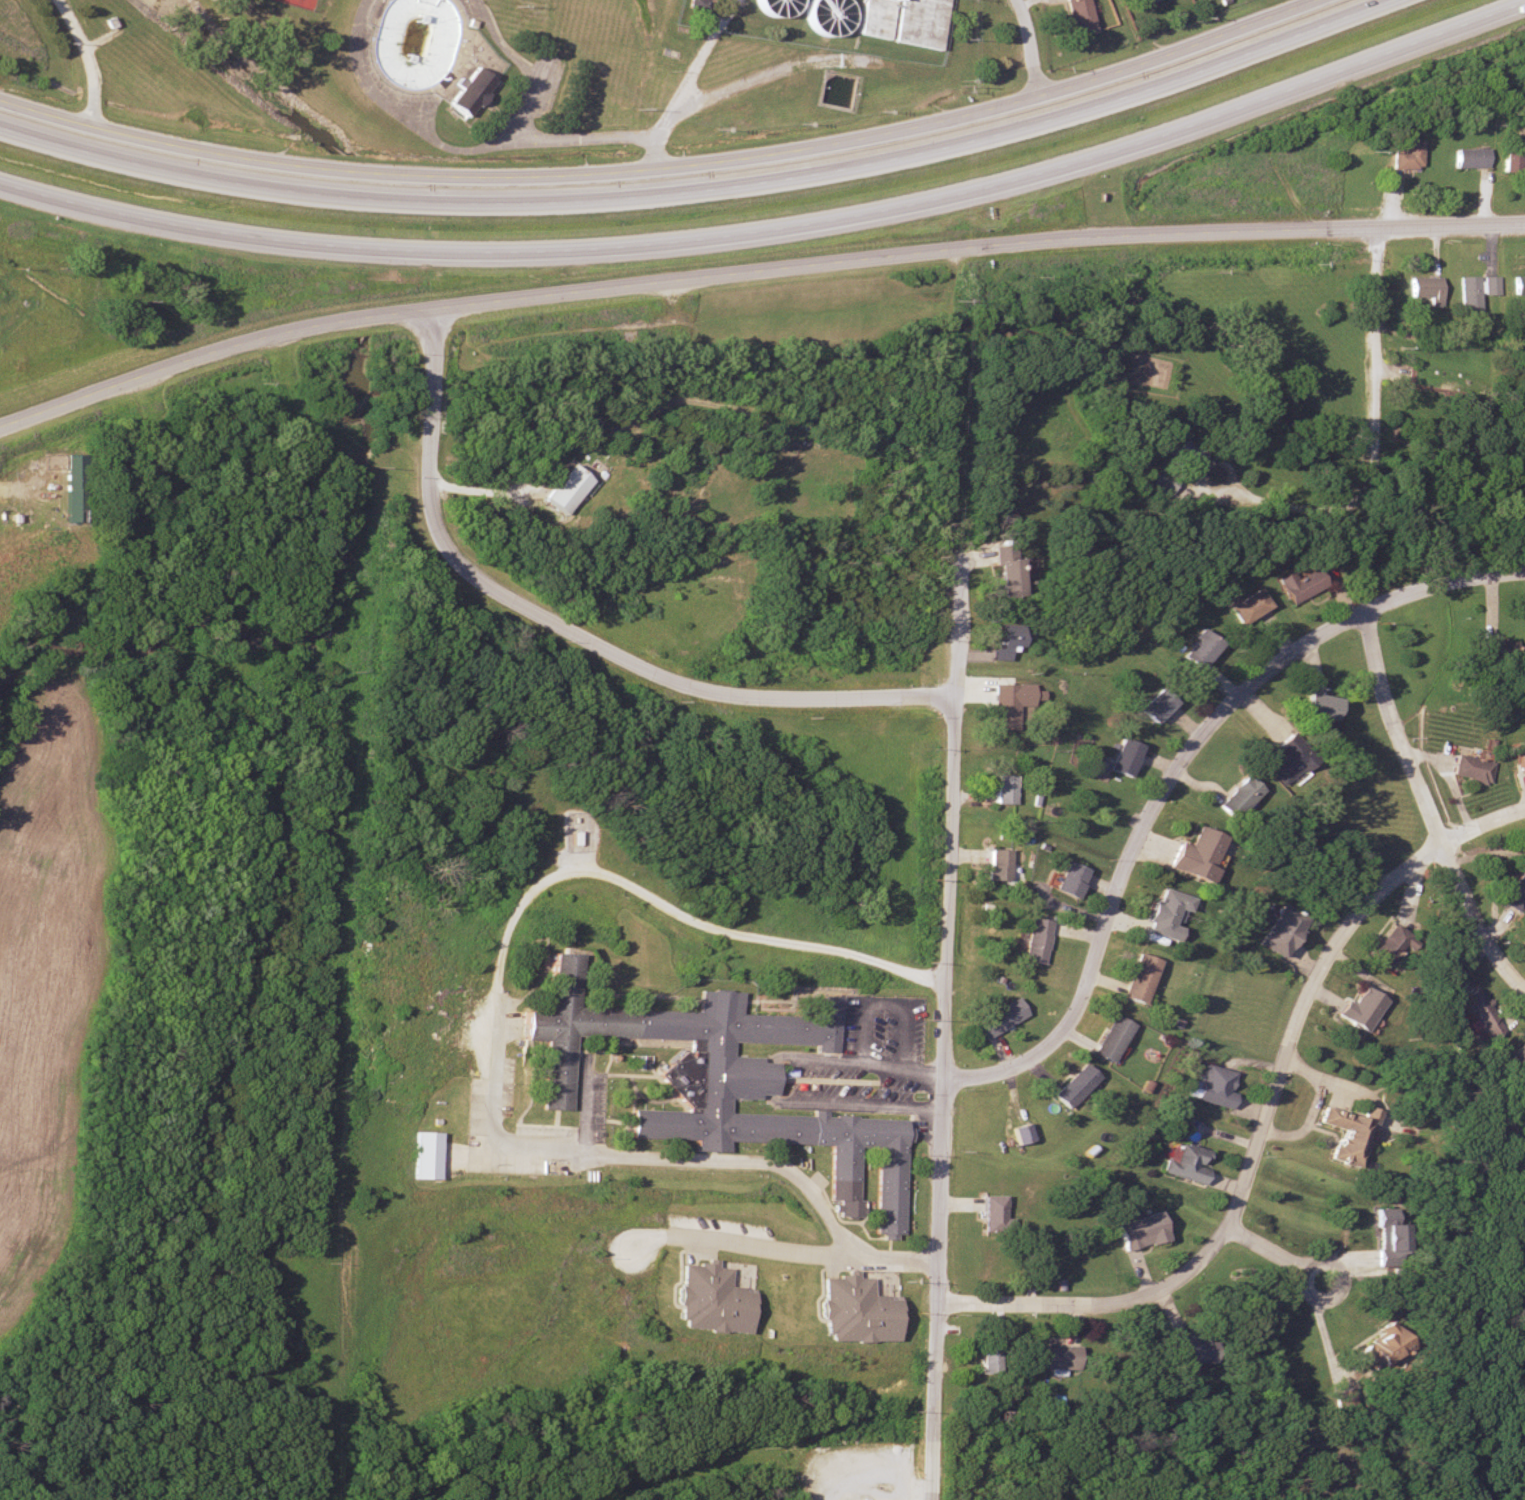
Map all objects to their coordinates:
building: (1145, 0)
park: (301, 4)
building: (698, 6)
building: (780, 6)
silo: (780, 6)
building: (834, 14)
silo: (834, 14)
building: (1078, 16)
building: (877, 18)
building: (919, 24)
park: (550, 28)
building: (415, 42)
road: (1029, 44)
road: (89, 61)
building: (469, 93)
building: (1396, 154)
building: (1467, 157)
building: (1510, 161)
road: (666, 175)
road: (705, 194)
road: (776, 229)
road: (753, 271)
building: (1518, 284)
building: (1489, 285)
building: (1422, 288)
building: (1467, 292)
road: (1375, 420)
building: (1179, 446)
road: (1230, 470)
building: (565, 489)
building: (1002, 570)
building: (1297, 584)
building: (1245, 606)
road: (569, 634)
building: (1001, 641)
river: (300, 645)
building: (1197, 647)
building: (1496, 651)
building: (1155, 706)
building: (1318, 706)
building: (999, 707)
building: (1125, 758)
building: (1286, 759)
building: (1519, 762)
road: (953, 769)
building: (1470, 769)
building: (1003, 789)
building: (1236, 797)
road: (1426, 812)
road: (1150, 813)
building: (1193, 855)
building: (997, 864)
building: (1069, 880)
building: (1516, 892)
building: (1164, 911)
building: (1276, 932)
building: (1035, 940)
building: (1389, 946)
building: (1138, 978)
building: (1359, 1008)
road: (499, 1011)
building: (1478, 1013)
building: (998, 1018)
building: (584, 1027)
building: (1111, 1038)
building: (705, 1054)
building: (1518, 1055)
building: (1074, 1085)
building: (1212, 1086)
road: (1263, 1121)
building: (1021, 1134)
building: (1350, 1135)
building: (421, 1155)
building: (1184, 1162)
building: (893, 1167)
building: (988, 1213)
building: (1139, 1230)
building: (1386, 1236)
road: (744, 1237)
road: (1262, 1247)
road: (919, 1261)
road: (938, 1288)
road: (1324, 1302)
building: (1377, 1348)
building: (1191, 1353)
building: (1052, 1358)
building: (989, 1362)

